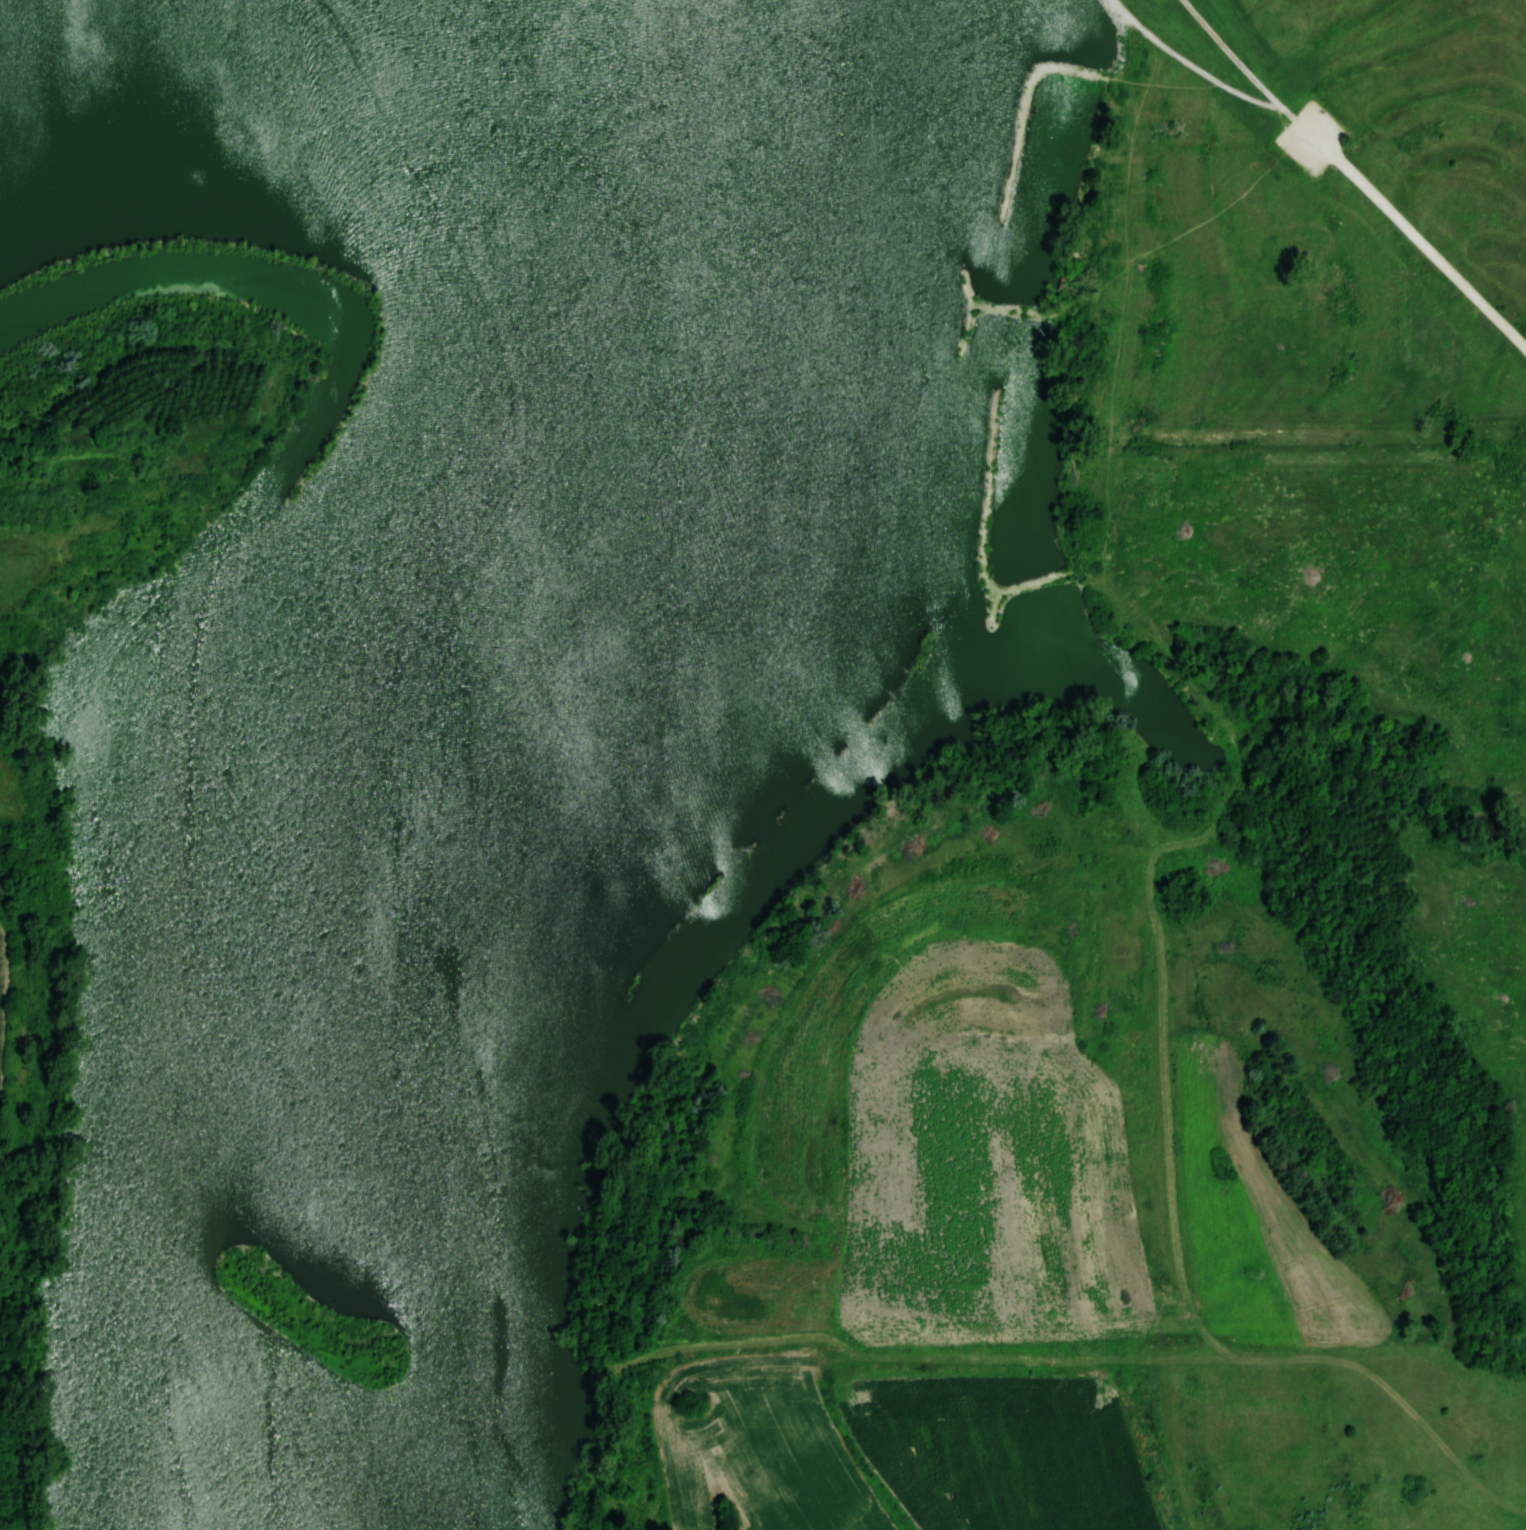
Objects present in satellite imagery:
dam: (1114, 3)
dam: (1240, 55)
road: (1237, 60)
road: (1184, 62)
parking lot: (1312, 134)
road: (1410, 231)

